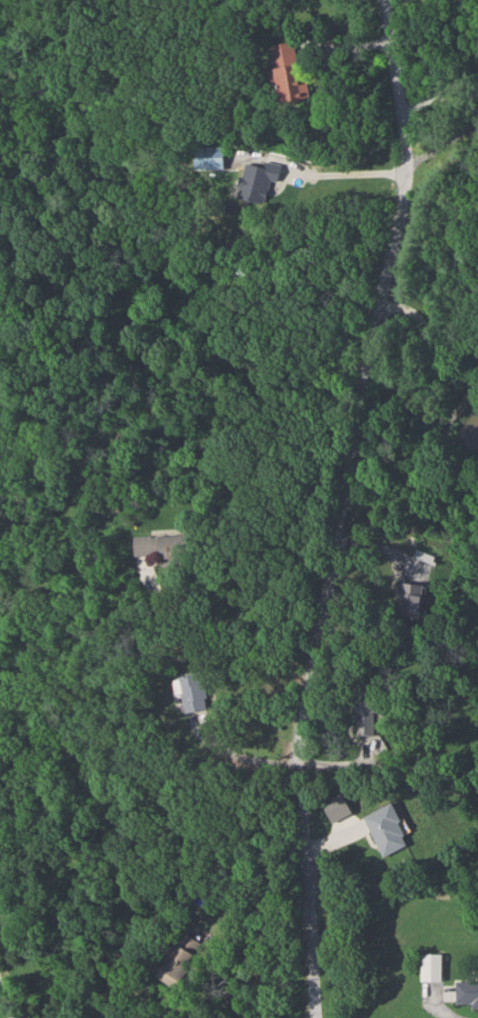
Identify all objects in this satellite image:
building: (289, 72)
road: (390, 172)
building: (257, 178)
road: (427, 328)
road: (352, 509)
building: (152, 544)
building: (413, 600)
road: (217, 622)
building: (366, 715)
building: (389, 830)
building: (179, 961)
building: (434, 967)
building: (468, 992)
road: (7, 997)
road: (455, 1015)

